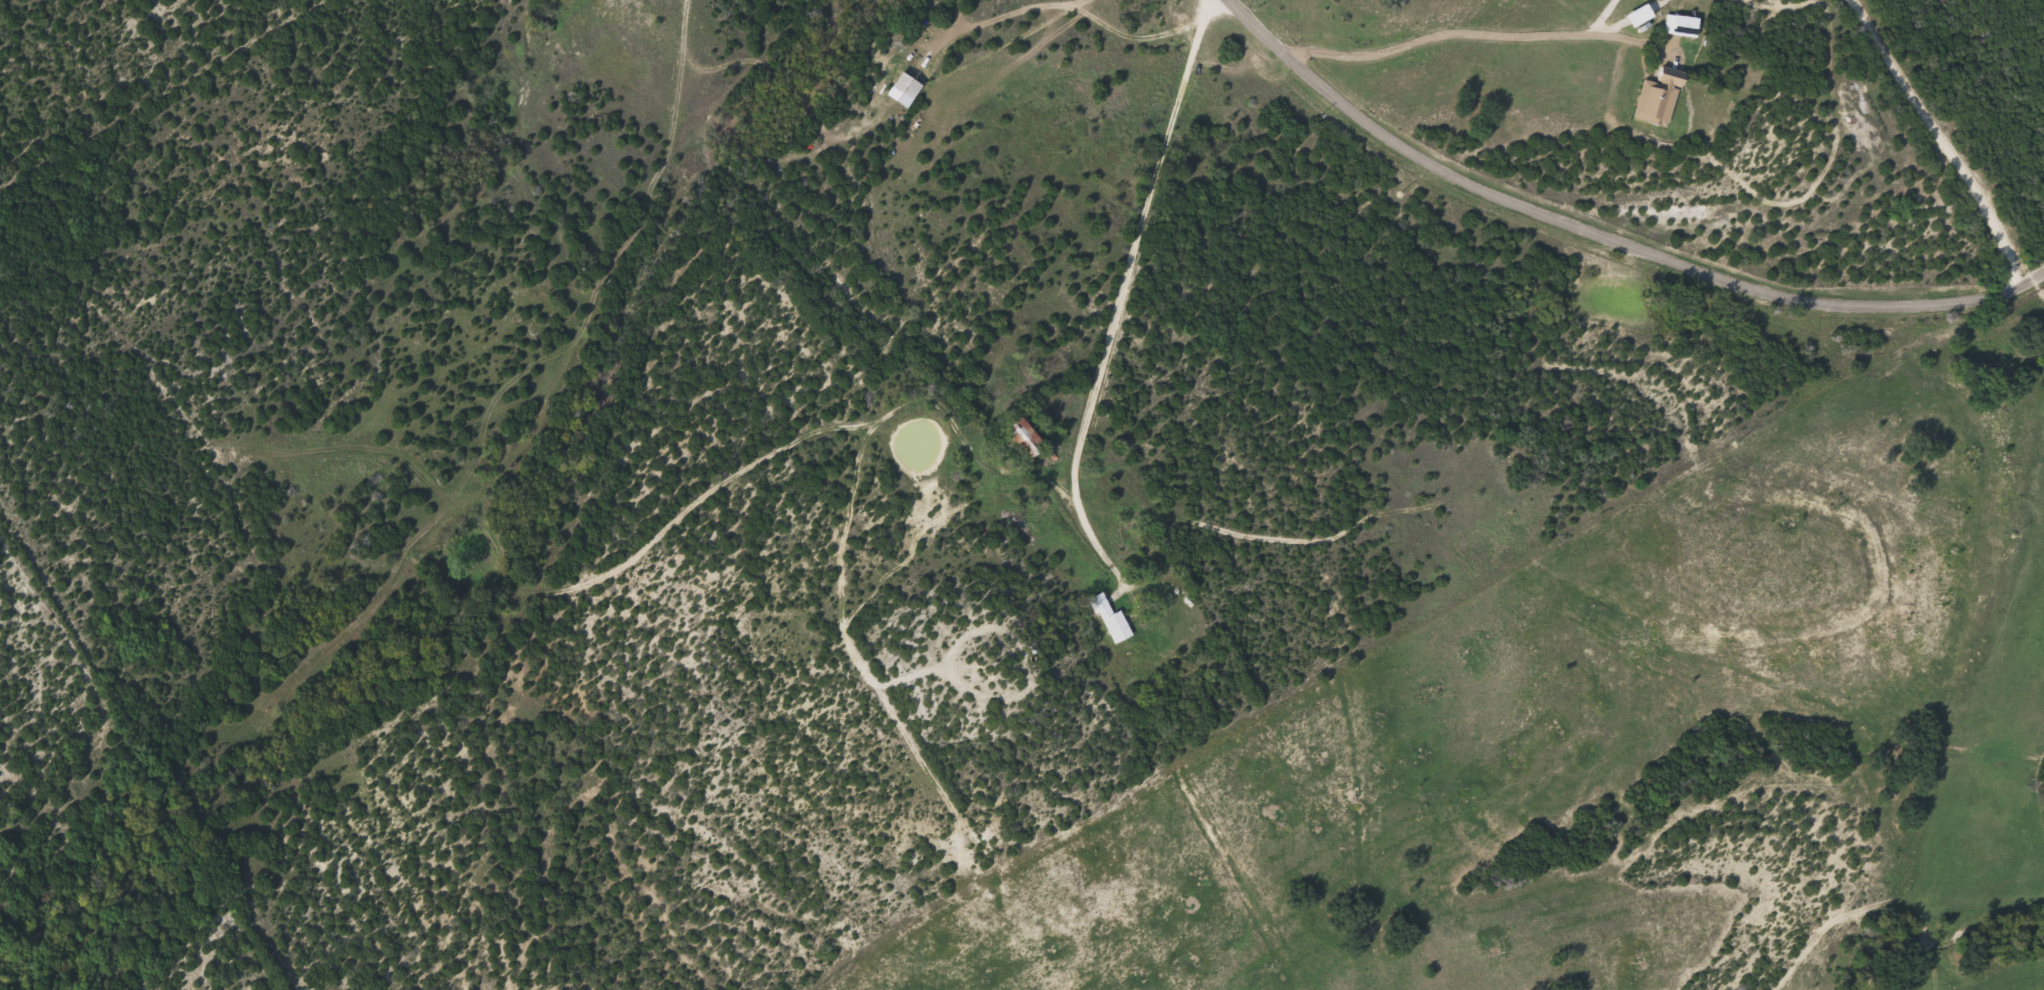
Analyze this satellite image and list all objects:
building: (1686, 27)
road: (1454, 35)
building: (1660, 99)
road: (1940, 143)
road: (1607, 238)
road: (1100, 326)
building: (1028, 431)
building: (1112, 620)

